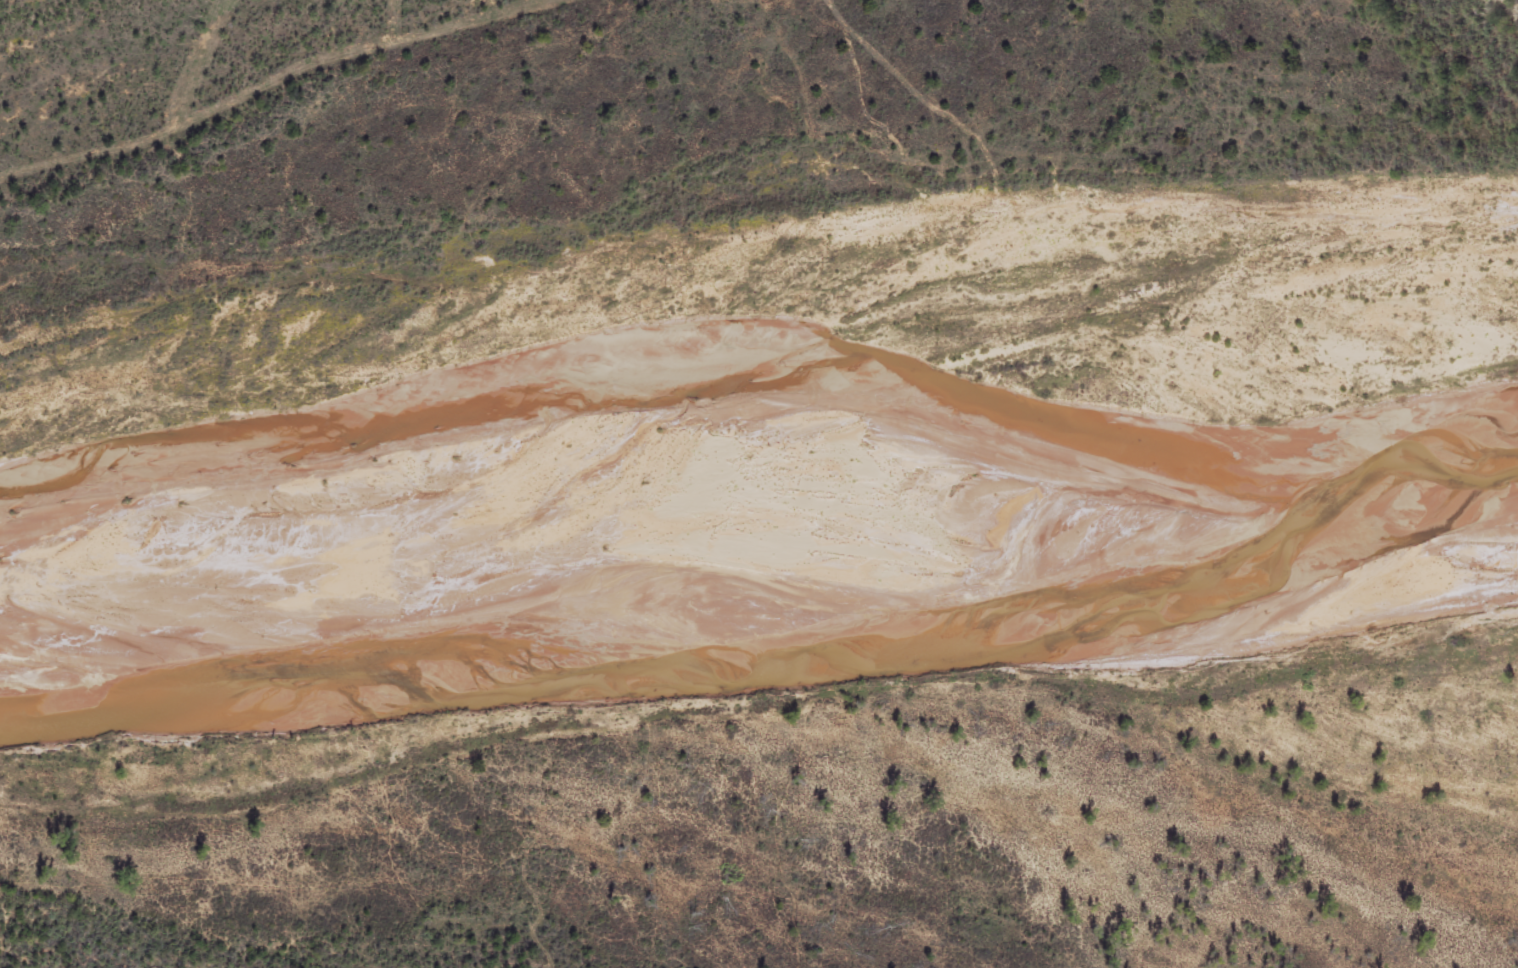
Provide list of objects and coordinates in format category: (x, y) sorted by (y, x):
road: (278, 82)
river: (783, 596)

